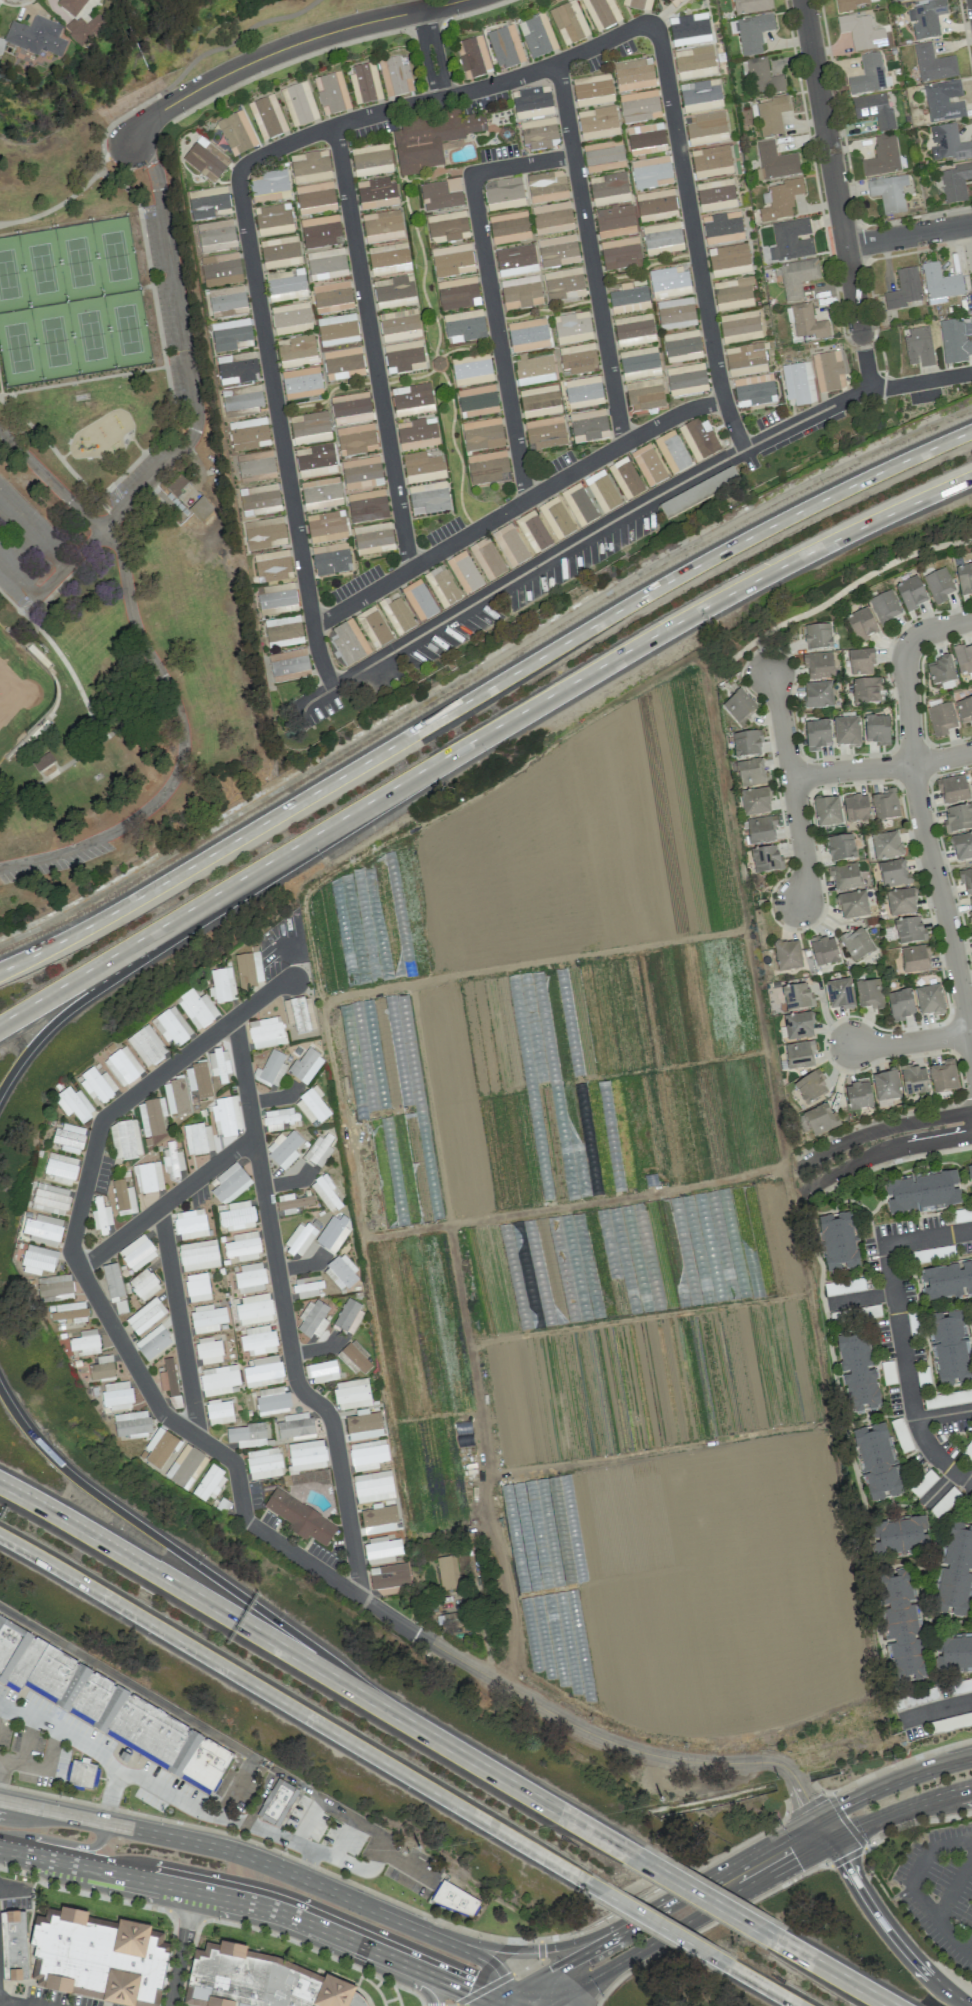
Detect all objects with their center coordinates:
building: (675, 2)
building: (638, 4)
building: (849, 4)
building: (71, 6)
building: (751, 6)
building: (601, 13)
building: (926, 19)
building: (569, 23)
building: (84, 28)
building: (689, 29)
building: (861, 32)
building: (753, 33)
building: (537, 35)
building: (36, 37)
road: (231, 39)
road: (306, 39)
building: (505, 47)
road: (432, 53)
building: (473, 57)
building: (694, 62)
building: (933, 64)
building: (634, 75)
building: (869, 75)
building: (395, 77)
building: (762, 77)
building: (365, 83)
building: (593, 90)
building: (331, 93)
building: (700, 95)
building: (944, 101)
building: (532, 102)
building: (299, 104)
road: (406, 106)
building: (639, 106)
building: (873, 110)
building: (772, 115)
building: (267, 117)
building: (597, 123)
road: (145, 124)
building: (706, 128)
building: (236, 133)
building: (539, 133)
building: (430, 139)
building: (646, 139)
building: (947, 144)
building: (603, 156)
building: (882, 157)
building: (206, 160)
building: (371, 160)
building: (711, 161)
building: (775, 162)
building: (310, 167)
road: (100, 169)
building: (651, 172)
road: (832, 175)
building: (955, 182)
building: (269, 186)
building: (547, 187)
building: (609, 189)
building: (377, 193)
building: (888, 193)
building: (441, 194)
building: (503, 194)
building: (715, 195)
building: (315, 198)
building: (781, 200)
building: (209, 203)
building: (656, 205)
building: (552, 218)
building: (273, 220)
building: (614, 221)
building: (382, 226)
building: (447, 227)
building: (509, 227)
building: (722, 228)
building: (320, 231)
road: (908, 235)
building: (216, 236)
building: (662, 238)
building: (791, 240)
building: (557, 251)
building: (280, 252)
building: (620, 253)
park: (114, 254)
road: (591, 255)
building: (389, 259)
park: (78, 260)
building: (452, 260)
building: (516, 260)
building: (729, 260)
building: (326, 264)
park: (41, 266)
building: (220, 270)
building: (971, 273)
park: (11, 275)
building: (797, 277)
building: (939, 284)
building: (286, 285)
building: (564, 285)
building: (904, 289)
road: (492, 290)
building: (394, 292)
building: (521, 292)
building: (457, 293)
building: (733, 293)
building: (332, 297)
building: (628, 299)
building: (227, 302)
parking lot: (171, 307)
building: (676, 313)
building: (291, 318)
building: (807, 322)
building: (399, 325)
building: (464, 326)
park: (127, 327)
building: (572, 327)
building: (739, 327)
building: (337, 330)
building: (634, 330)
park: (90, 334)
building: (231, 335)
building: (528, 335)
park: (54, 340)
building: (954, 342)
building: (682, 346)
park: (18, 347)
building: (919, 347)
road: (374, 348)
building: (296, 351)
building: (404, 356)
building: (577, 359)
building: (745, 359)
building: (343, 363)
building: (639, 363)
building: (236, 368)
building: (472, 369)
building: (534, 369)
building: (828, 371)
building: (686, 380)
road: (920, 382)
building: (301, 383)
building: (798, 384)
building: (753, 390)
building: (583, 392)
building: (644, 395)
building: (242, 398)
building: (412, 399)
building: (477, 401)
building: (540, 401)
road: (172, 406)
building: (351, 408)
road: (195, 418)
building: (588, 426)
road: (734, 427)
building: (310, 428)
building: (417, 433)
building: (545, 433)
building: (248, 434)
building: (482, 434)
building: (699, 439)
building: (356, 440)
building: (672, 452)
building: (315, 460)
building: (256, 465)
building: (648, 465)
building: (422, 467)
building: (488, 468)
building: (361, 473)
park: (117, 477)
building: (625, 478)
building: (176, 485)
building: (602, 491)
building: (321, 494)
building: (428, 498)
building: (163, 499)
building: (259, 500)
building: (579, 505)
building: (367, 506)
building: (201, 509)
road: (514, 510)
building: (556, 518)
building: (326, 527)
road: (598, 530)
building: (533, 532)
building: (265, 533)
road: (32, 534)
building: (373, 539)
building: (510, 545)
parking lot: (24, 547)
building: (331, 559)
building: (487, 559)
building: (272, 566)
building: (464, 572)
building: (964, 579)
building: (938, 585)
building: (442, 586)
road: (847, 588)
building: (911, 593)
park: (835, 596)
building: (277, 599)
building: (419, 600)
building: (885, 607)
building: (397, 615)
building: (861, 624)
building: (373, 627)
road: (937, 628)
building: (283, 631)
road: (138, 632)
building: (817, 637)
building: (347, 644)
road: (762, 655)
road: (321, 659)
building: (963, 659)
building: (861, 662)
building: (289, 665)
building: (818, 665)
building: (940, 670)
road: (562, 690)
park: (16, 691)
road: (480, 691)
building: (866, 691)
building: (818, 695)
building: (738, 705)
road: (87, 709)
building: (941, 719)
building: (876, 729)
building: (847, 731)
building: (818, 734)
building: (746, 744)
building: (42, 762)
road: (881, 766)
building: (751, 772)
road: (791, 786)
building: (953, 789)
building: (755, 802)
building: (885, 805)
building: (856, 809)
building: (827, 811)
building: (958, 818)
building: (761, 830)
building: (886, 845)
building: (962, 846)
building: (841, 848)
road: (928, 853)
road: (50, 855)
parking lot: (52, 859)
building: (766, 859)
building: (893, 874)
building: (844, 876)
building: (966, 879)
building: (901, 902)
building: (853, 904)
building: (970, 905)
building: (909, 930)
building: (856, 944)
building: (824, 950)
building: (787, 955)
building: (915, 959)
building: (248, 969)
road: (83, 976)
building: (222, 985)
building: (839, 993)
building: (869, 994)
building: (797, 997)
building: (929, 1000)
building: (900, 1004)
road: (76, 1005)
building: (197, 1008)
building: (300, 1014)
building: (588, 1024)
building: (798, 1025)
building: (171, 1027)
building: (266, 1032)
road: (911, 1042)
building: (147, 1046)
building: (799, 1055)
building: (218, 1064)
building: (305, 1065)
building: (122, 1066)
building: (271, 1069)
building: (943, 1076)
building: (198, 1079)
building: (913, 1080)
building: (97, 1085)
building: (886, 1086)
building: (809, 1088)
building: (858, 1095)
building: (176, 1097)
building: (73, 1104)
building: (312, 1105)
building: (152, 1116)
building: (226, 1116)
building: (279, 1118)
building: (819, 1120)
road: (879, 1132)
building: (69, 1138)
building: (198, 1139)
building: (125, 1140)
building: (284, 1149)
building: (320, 1149)
road: (881, 1150)
building: (172, 1160)
building: (60, 1168)
building: (970, 1175)
building: (148, 1177)
building: (229, 1182)
building: (925, 1192)
building: (326, 1194)
building: (123, 1198)
building: (50, 1199)
road: (166, 1201)
building: (292, 1203)
building: (101, 1216)
building: (237, 1216)
building: (190, 1224)
building: (43, 1230)
building: (333, 1234)
building: (840, 1238)
building: (299, 1239)
crop: (596, 1242)
building: (243, 1247)
building: (137, 1253)
building: (198, 1255)
building: (38, 1260)
building: (341, 1272)
building: (250, 1278)
building: (762, 1282)
building: (948, 1282)
building: (144, 1284)
building: (113, 1286)
building: (197, 1287)
building: (55, 1288)
building: (307, 1290)
road: (93, 1294)
road: (860, 1298)
building: (254, 1309)
building: (70, 1312)
building: (348, 1315)
building: (145, 1316)
building: (207, 1318)
building: (312, 1319)
road: (178, 1320)
road: (900, 1334)
building: (257, 1340)
building: (85, 1342)
building: (153, 1343)
road: (290, 1347)
building: (951, 1349)
building: (208, 1350)
building: (355, 1358)
building: (102, 1368)
building: (263, 1372)
building: (322, 1372)
building: (859, 1372)
building: (168, 1378)
building: (218, 1380)
building: (352, 1394)
building: (116, 1396)
building: (272, 1401)
building: (219, 1412)
road: (943, 1414)
building: (131, 1424)
building: (361, 1424)
building: (295, 1426)
building: (247, 1435)
building: (160, 1449)
building: (367, 1455)
building: (306, 1456)
building: (880, 1461)
building: (264, 1463)
building: (186, 1466)
road: (969, 1476)
building: (209, 1483)
building: (373, 1486)
road: (939, 1488)
building: (300, 1517)
building: (379, 1518)
building: (903, 1538)
building: (381, 1550)
building: (447, 1572)
building: (956, 1573)
building: (390, 1579)
road: (232, 1590)
road: (244, 1626)
building: (902, 1628)
road: (486, 1638)
building: (954, 1655)
building: (107, 1707)
road: (935, 1709)
road: (304, 1715)
road: (63, 1731)
road: (620, 1745)
building: (123, 1756)
road: (11, 1761)
road: (898, 1763)
road: (33, 1766)
road: (2, 1770)
building: (81, 1774)
road: (891, 1782)
parking lot: (167, 1792)
road: (238, 1792)
road: (169, 1796)
road: (112, 1797)
building: (277, 1802)
traffic signals: (803, 1802)
traffic signals: (841, 1807)
road: (899, 1809)
road: (842, 1817)
road: (571, 1820)
road: (915, 1821)
road: (355, 1822)
road: (308, 1824)
road: (823, 1830)
road: (754, 1836)
road: (344, 1840)
road: (189, 1841)
road: (60, 1842)
road: (299, 1845)
road: (384, 1849)
road: (284, 1854)
road: (800, 1857)
road: (379, 1860)
traffic signals: (796, 1860)
traffic signals: (846, 1863)
road: (409, 1868)
road: (724, 1873)
road: (916, 1889)
road: (954, 1889)
road: (13, 1890)
parking lot: (940, 1890)
road: (698, 1893)
road: (641, 1896)
building: (454, 1898)
road: (257, 1905)
road: (649, 1920)
road: (218, 1921)
road: (707, 1924)
road: (887, 1929)
road: (656, 1939)
building: (14, 1945)
road: (452, 1946)
road: (500, 1947)
traffic signals: (553, 1947)
road: (181, 1948)
building: (102, 1959)
road: (360, 1962)
road: (816, 1962)
road: (561, 1967)
traffic signals: (560, 1968)
road: (744, 1975)
building: (259, 1981)
road: (481, 1989)
traffic signals: (467, 1991)
road: (13, 2003)
road: (438, 2005)

